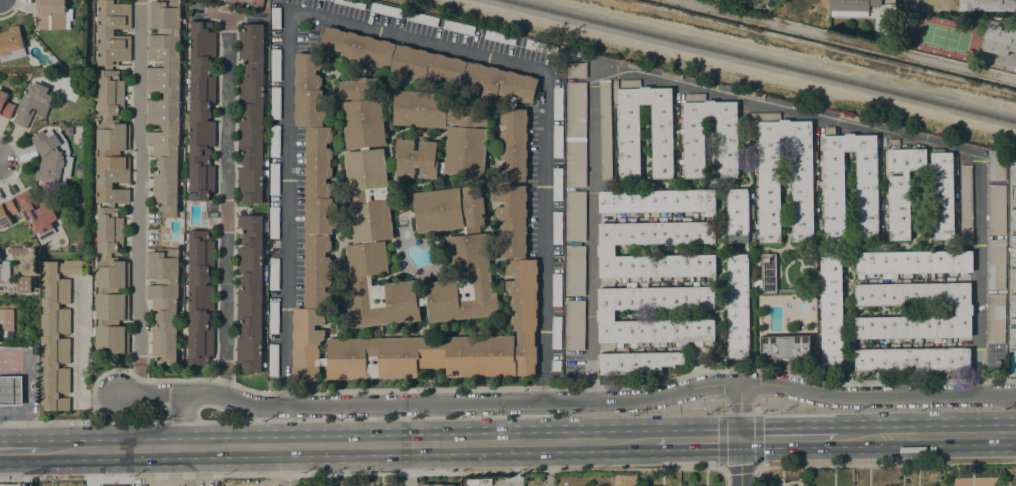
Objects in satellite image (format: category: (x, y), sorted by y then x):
building: (714, 0)
building: (352, 3)
building: (1007, 5)
building: (850, 7)
building: (385, 10)
building: (52, 14)
building: (275, 17)
building: (423, 19)
building: (458, 27)
road: (383, 28)
building: (499, 37)
building: (1000, 40)
building: (11, 44)
building: (357, 47)
building: (540, 47)
road: (1004, 58)
railway: (759, 61)
building: (275, 65)
building: (426, 66)
building: (637, 66)
building: (575, 69)
building: (670, 74)
building: (498, 83)
building: (307, 90)
road: (735, 94)
building: (753, 94)
building: (164, 100)
building: (274, 102)
building: (512, 103)
building: (557, 103)
building: (32, 104)
building: (5, 105)
building: (575, 109)
building: (201, 111)
building: (251, 114)
building: (849, 117)
building: (604, 129)
building: (466, 133)
building: (274, 141)
building: (893, 141)
building: (557, 142)
building: (661, 142)
building: (726, 148)
building: (52, 156)
building: (575, 163)
building: (995, 165)
building: (1013, 172)
building: (801, 174)
building: (273, 178)
building: (111, 181)
building: (318, 181)
building: (833, 181)
building: (556, 184)
road: (139, 199)
building: (656, 201)
building: (1013, 202)
building: (966, 205)
building: (448, 206)
building: (942, 207)
building: (996, 210)
building: (7, 213)
building: (37, 214)
building: (736, 215)
building: (575, 216)
road: (224, 218)
building: (1013, 218)
building: (273, 223)
building: (556, 228)
building: (1013, 245)
building: (317, 246)
building: (606, 249)
building: (913, 261)
building: (1013, 261)
building: (995, 263)
building: (4, 264)
building: (574, 271)
building: (273, 274)
building: (766, 275)
building: (904, 275)
building: (1013, 278)
building: (556, 290)
building: (249, 293)
building: (200, 298)
building: (163, 303)
building: (1013, 304)
building: (737, 306)
building: (831, 310)
building: (963, 311)
building: (605, 314)
building: (273, 318)
building: (995, 319)
building: (6, 320)
building: (1013, 320)
building: (574, 325)
building: (56, 332)
building: (555, 332)
building: (0, 337)
building: (1012, 338)
road: (78, 343)
building: (785, 347)
building: (815, 353)
building: (272, 359)
building: (911, 359)
building: (636, 362)
building: (555, 365)
road: (532, 387)
building: (10, 390)
road: (103, 394)
road: (567, 400)
road: (886, 409)
road: (461, 417)
road: (182, 420)
road: (128, 421)
road: (182, 421)
road: (46, 422)
road: (5, 432)
road: (926, 433)
road: (740, 434)
road: (787, 435)
road: (697, 437)
traffic signals: (740, 437)
road: (346, 444)
road: (18, 450)
road: (549, 463)
road: (886, 463)
road: (407, 464)
road: (515, 464)
road: (288, 466)
road: (90, 467)
road: (722, 467)
road: (679, 469)
road: (143, 475)
road: (755, 475)
building: (15, 484)
building: (435, 484)
building: (708, 485)

